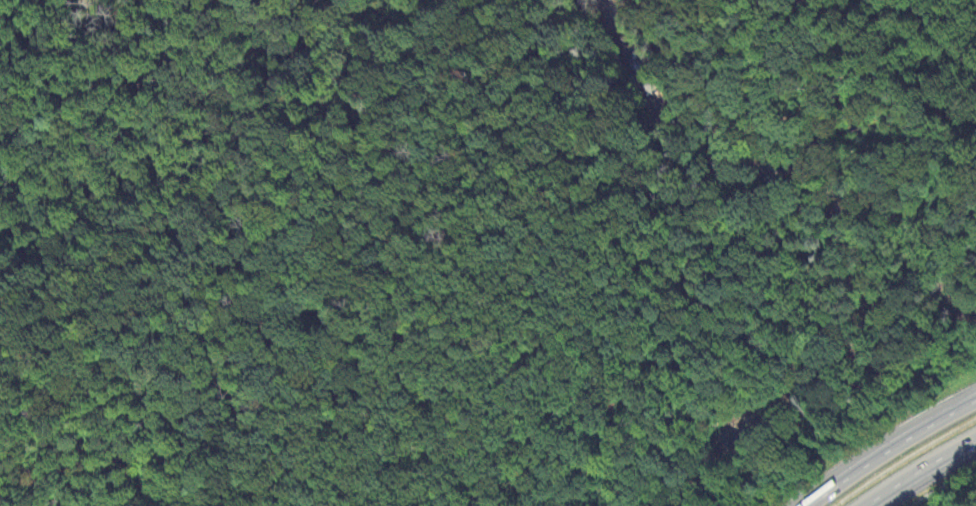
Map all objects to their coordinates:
road: (894, 452)
road: (928, 471)

